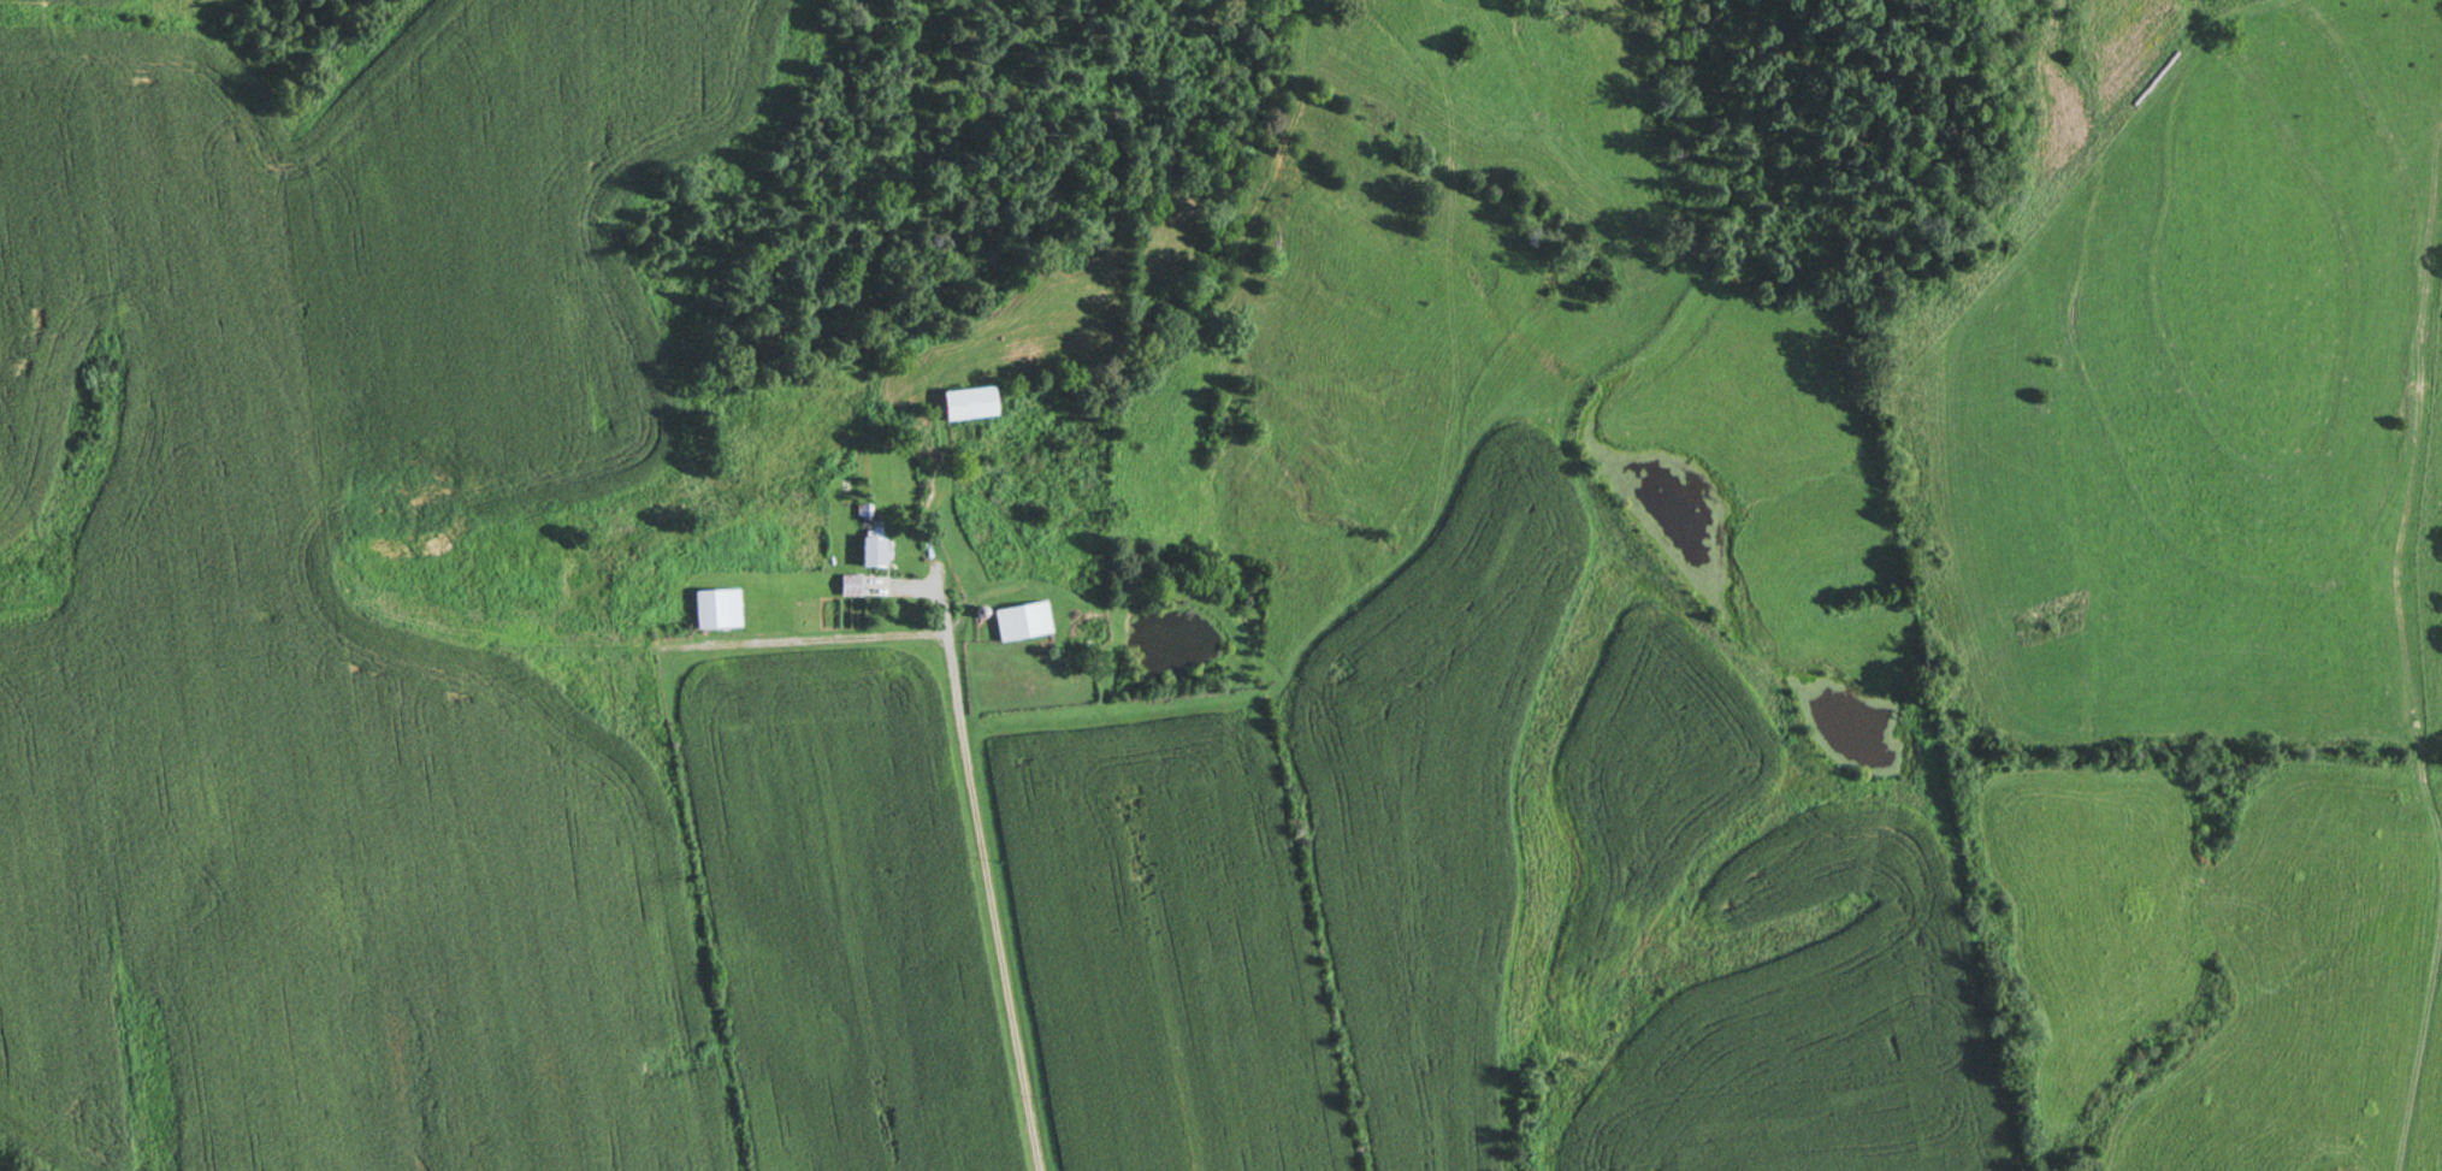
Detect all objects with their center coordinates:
building: (966, 403)
building: (869, 551)
building: (713, 608)
building: (1019, 620)
building: (1104, 627)
road: (958, 744)

